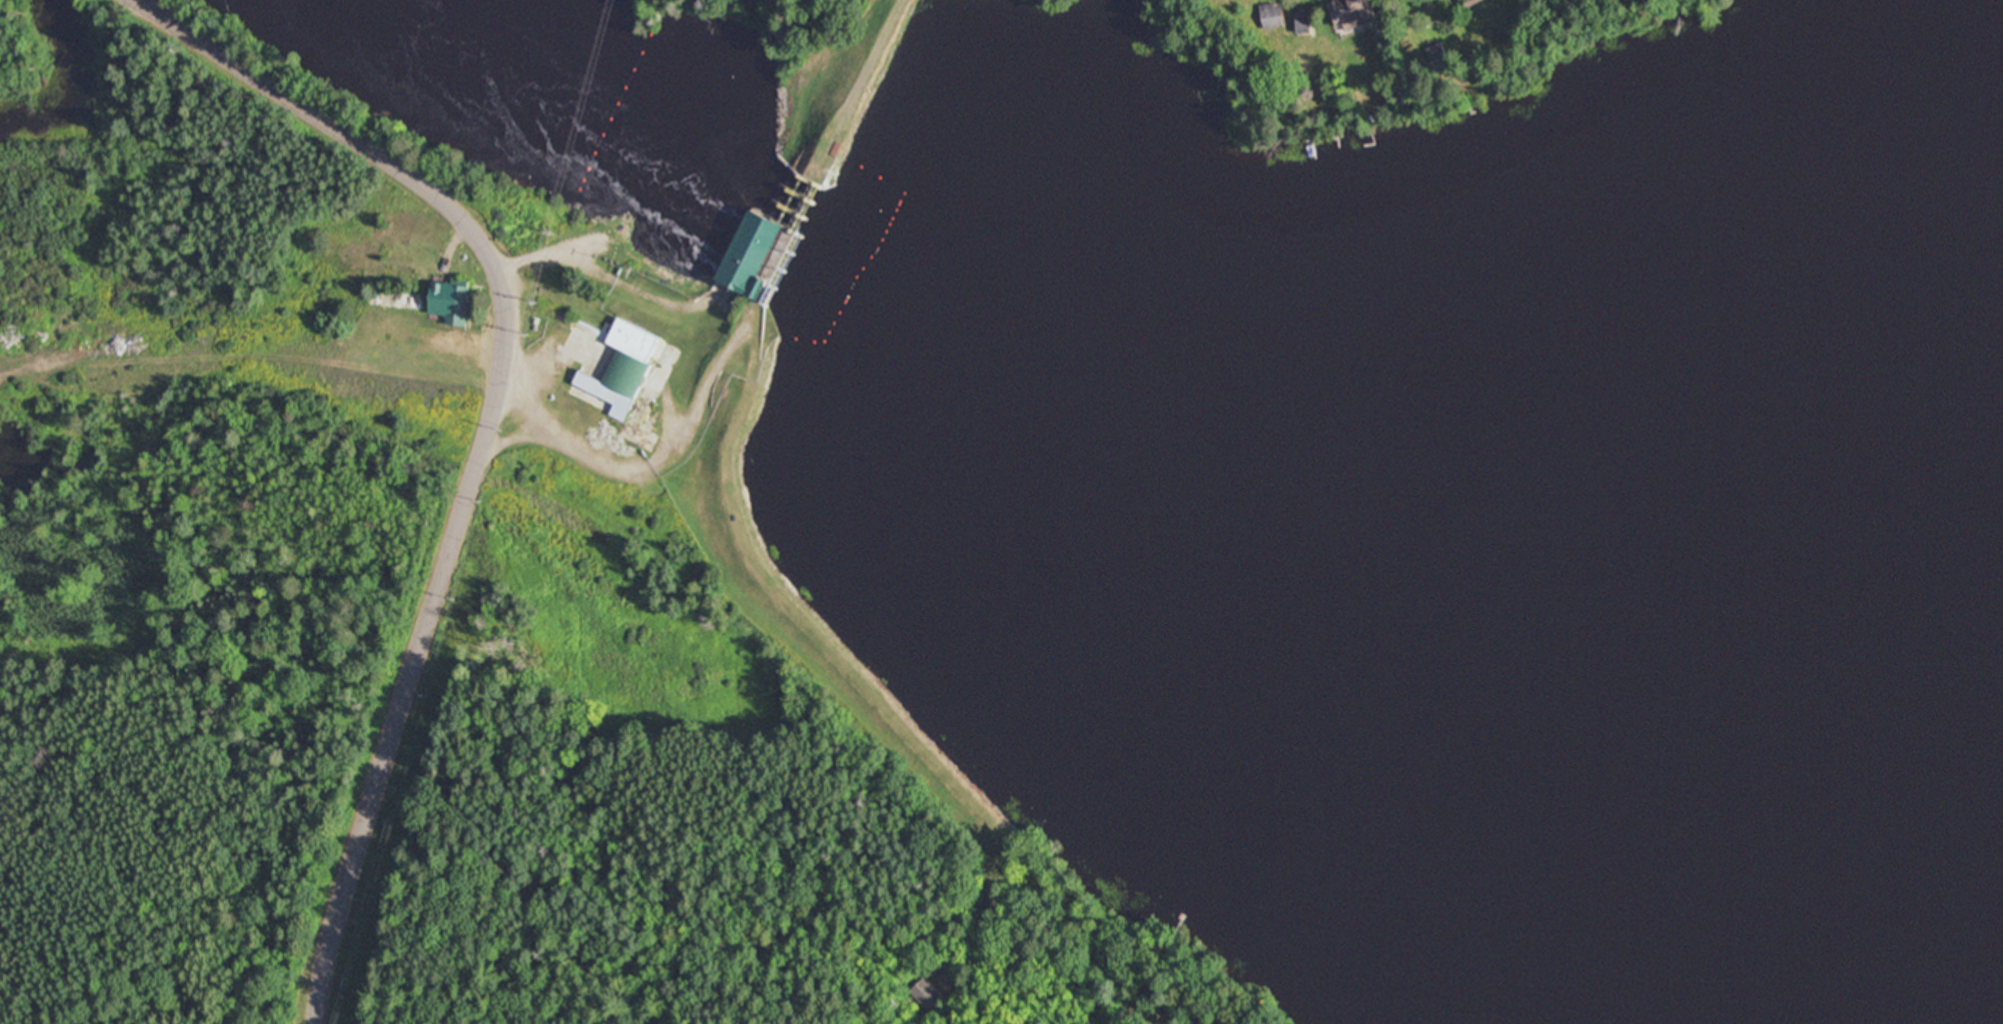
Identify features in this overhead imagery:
building: (1270, 13)
building: (1351, 13)
building: (1303, 19)
building: (1434, 59)
dam: (793, 246)
building: (752, 253)
building: (450, 303)
building: (641, 344)
road: (489, 430)
river: (1153, 481)
building: (930, 994)

